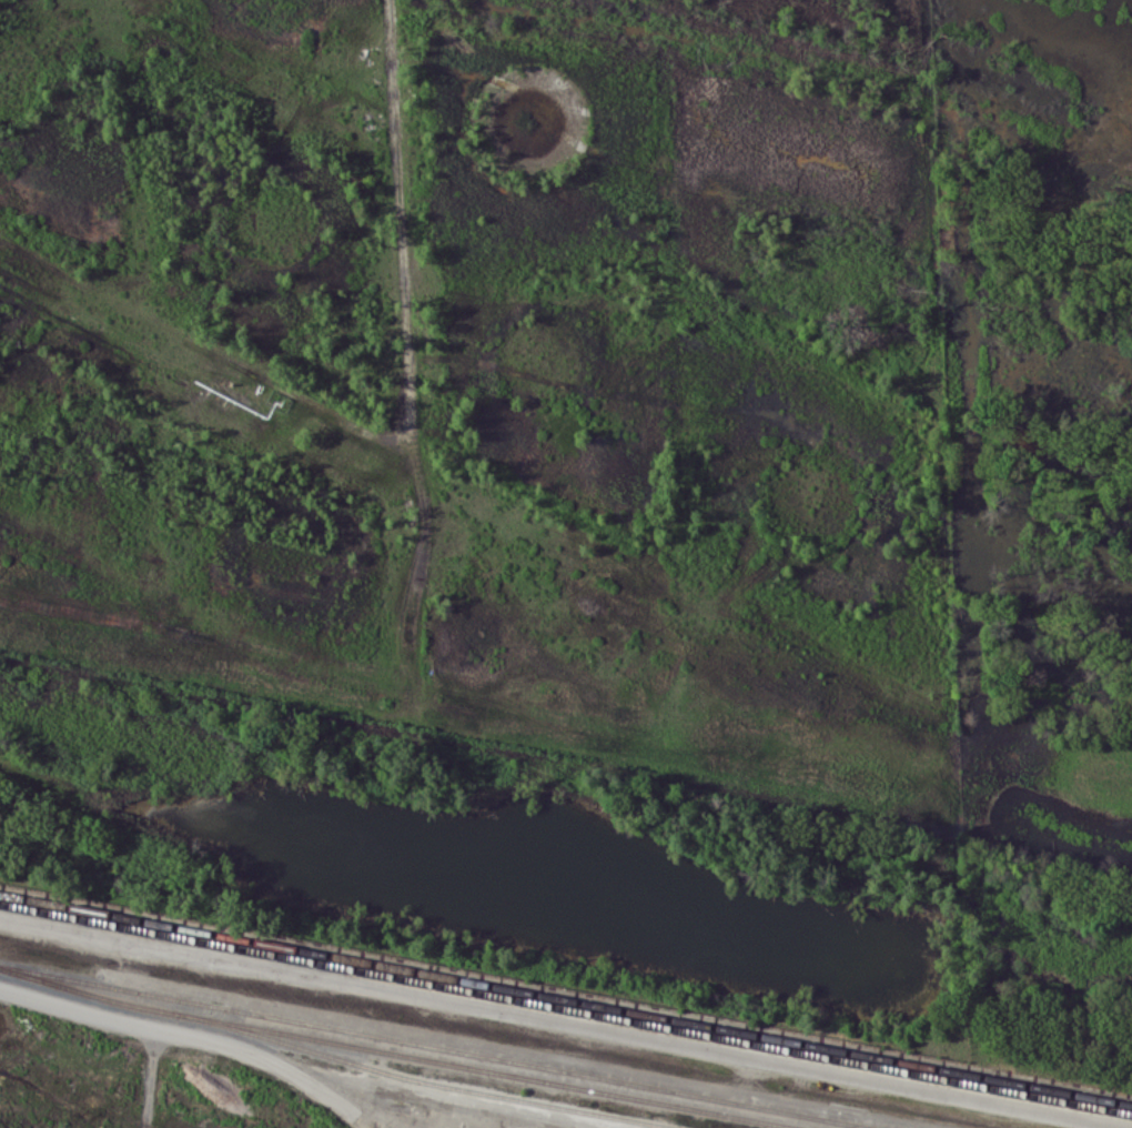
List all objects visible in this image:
railway: (565, 998)
railway: (565, 1009)
road: (566, 1019)
railway: (437, 1047)
railway: (400, 1053)
railway: (421, 1080)

